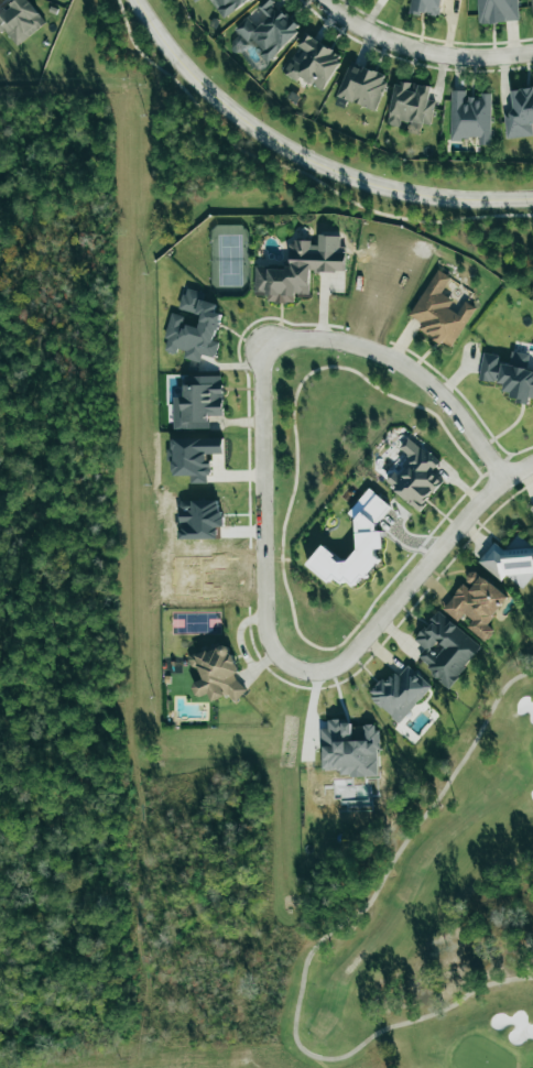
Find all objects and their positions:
building: (196, 0)
building: (227, 6)
building: (531, 6)
building: (426, 7)
building: (497, 11)
building: (20, 20)
building: (268, 30)
road: (422, 48)
building: (312, 63)
building: (362, 86)
building: (411, 106)
building: (520, 113)
building: (470, 117)
road: (305, 156)
building: (296, 272)
building: (440, 312)
building: (194, 328)
road: (406, 366)
building: (510, 375)
building: (198, 403)
road: (292, 413)
building: (193, 457)
building: (415, 478)
building: (532, 503)
road: (263, 512)
building: (368, 536)
building: (508, 562)
road: (417, 574)
building: (476, 604)
building: (445, 649)
building: (217, 674)
building: (400, 693)
building: (350, 749)
park: (424, 918)
park: (390, 931)

